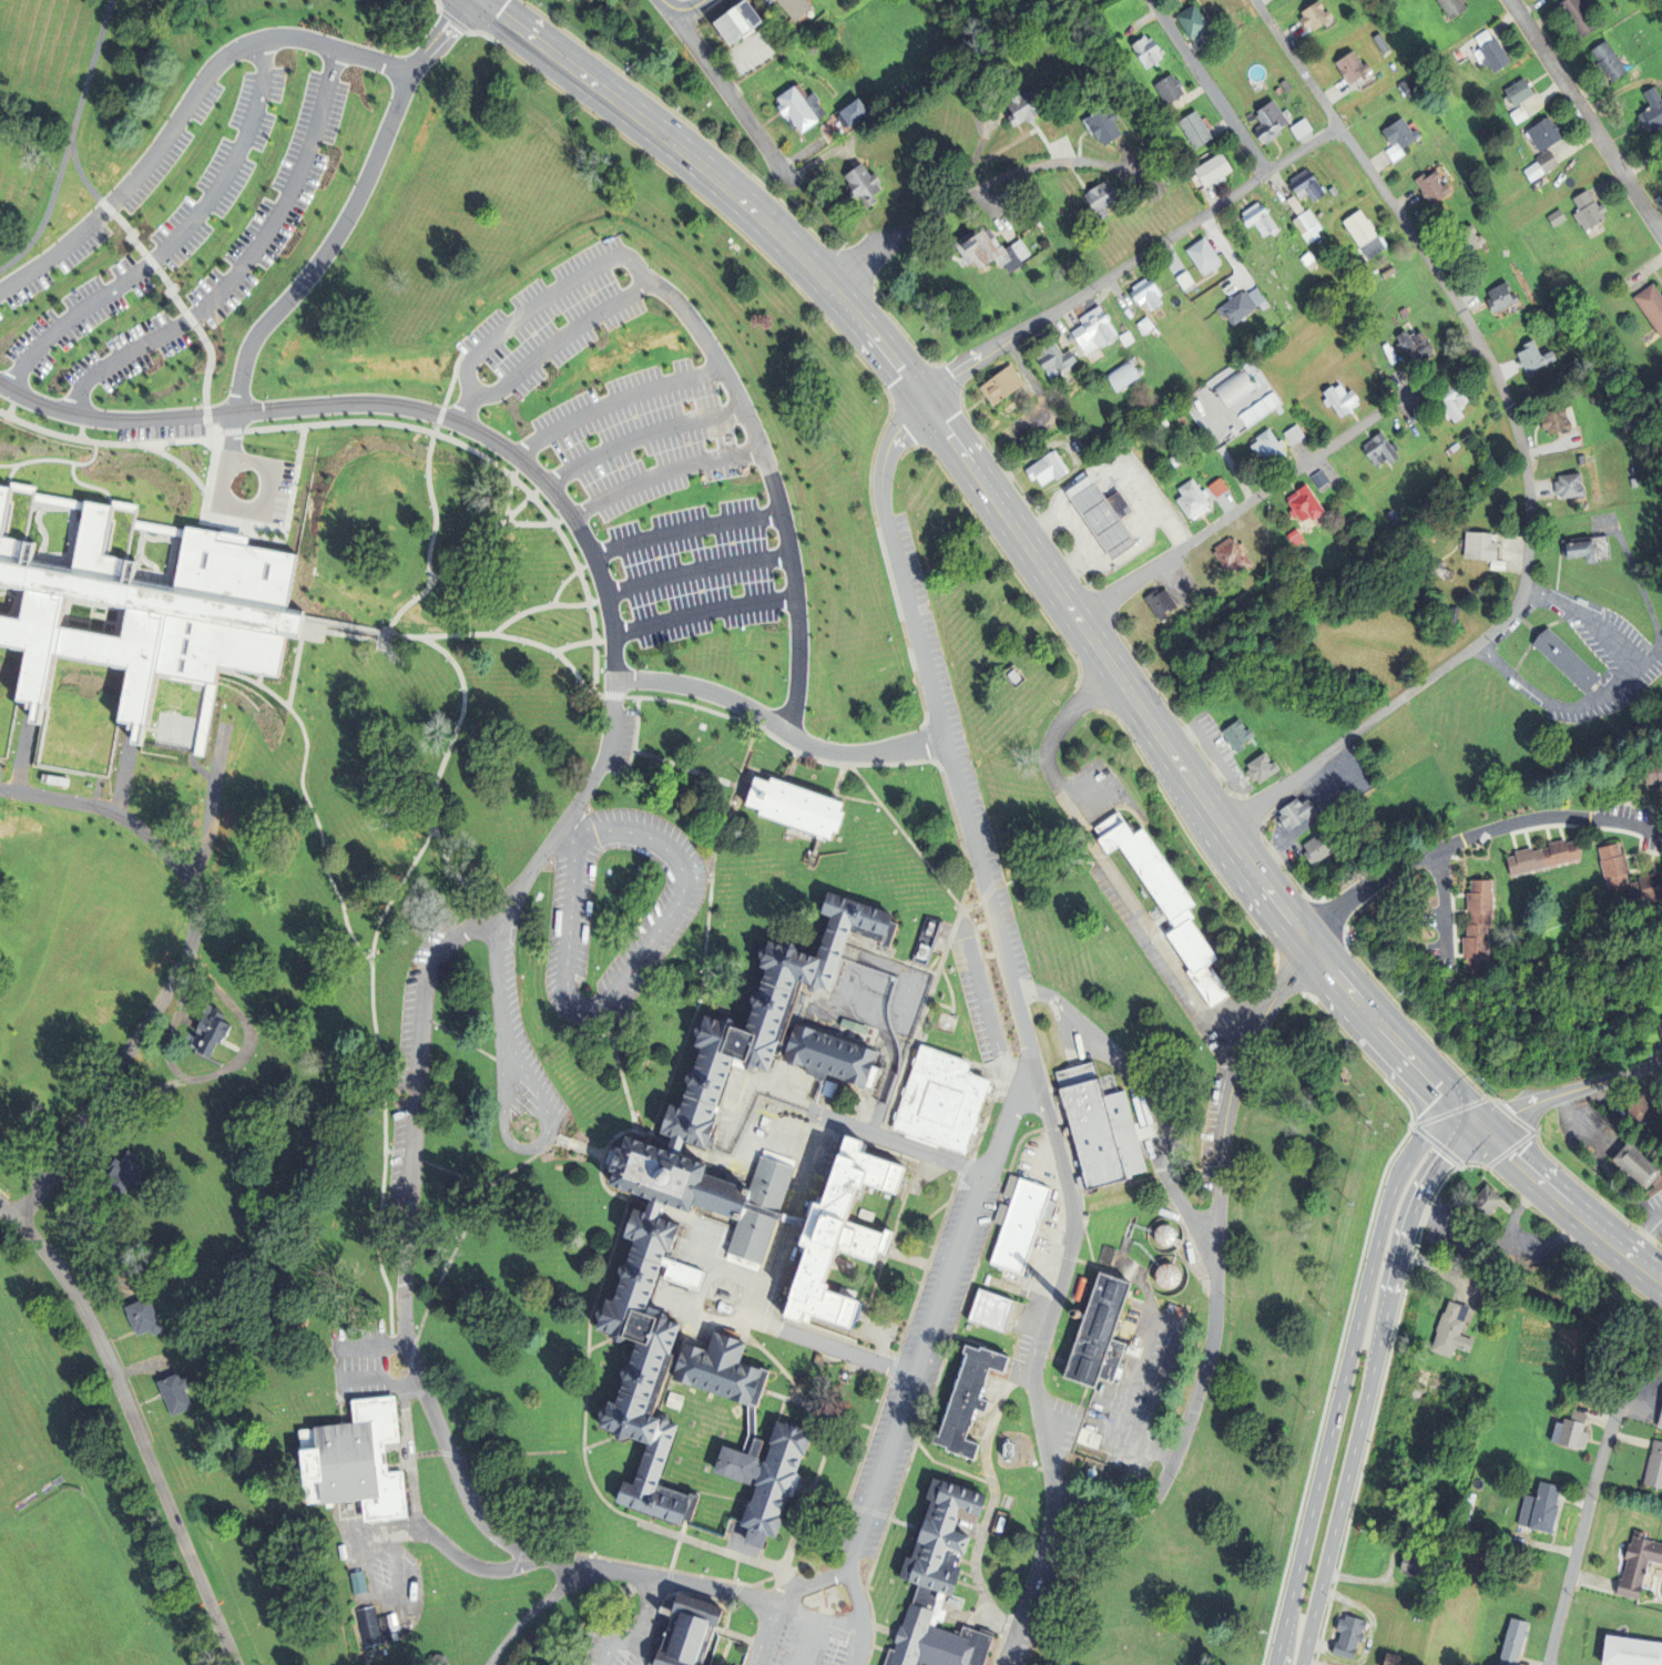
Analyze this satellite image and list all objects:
road: (704, 1)
road: (667, 4)
building: (1456, 7)
building: (796, 8)
building: (220, 10)
road: (687, 10)
building: (1581, 14)
building: (1312, 16)
building: (741, 19)
building: (1186, 22)
road: (528, 35)
building: (1111, 35)
road: (438, 37)
building: (1486, 37)
building: (1145, 51)
building: (1497, 54)
building: (1611, 60)
building: (1348, 67)
building: (1282, 85)
road: (1207, 86)
building: (1164, 89)
building: (1401, 89)
building: (1522, 90)
road: (728, 92)
building: (1021, 102)
building: (1655, 106)
road: (81, 108)
building: (802, 109)
road: (185, 112)
building: (857, 112)
building: (1521, 113)
road: (1587, 118)
building: (1266, 121)
building: (1101, 125)
building: (1191, 130)
building: (1488, 131)
building: (1546, 134)
road: (663, 137)
building: (1395, 139)
building: (1550, 160)
building: (1206, 170)
building: (1536, 170)
building: (857, 183)
building: (1301, 184)
road: (983, 186)
building: (1429, 187)
building: (1329, 191)
building: (1098, 198)
building: (1589, 210)
road: (49, 212)
parking lot: (193, 212)
building: (1559, 217)
road: (119, 218)
building: (1256, 221)
building: (1304, 226)
building: (1499, 229)
building: (1360, 234)
road: (133, 237)
building: (1465, 237)
road: (176, 242)
building: (972, 245)
building: (1017, 249)
road: (1224, 253)
building: (1199, 255)
building: (1306, 261)
road: (1130, 262)
road: (152, 263)
road: (246, 264)
road: (313, 272)
building: (1181, 279)
road: (171, 292)
building: (1144, 293)
building: (1506, 297)
building: (1652, 303)
building: (1238, 305)
building: (605, 313)
building: (1400, 313)
parking lot: (0, 318)
road: (191, 320)
building: (1142, 325)
building: (1090, 330)
road: (561, 338)
building: (1123, 338)
building: (1411, 345)
road: (211, 354)
building: (1536, 357)
building: (1051, 359)
building: (453, 369)
road: (724, 370)
building: (1119, 375)
building: (998, 384)
building: (1233, 388)
traffic signals: (922, 397)
building: (1338, 399)
building: (1449, 402)
road: (616, 404)
road: (13, 406)
road: (387, 407)
road: (467, 408)
building: (1256, 408)
building: (757, 415)
building: (573, 418)
building: (1558, 420)
road: (379, 422)
building: (1161, 422)
road: (82, 428)
road: (642, 437)
building: (1266, 447)
building: (1377, 448)
building: (1454, 448)
road: (1523, 449)
building: (1583, 459)
road: (55, 461)
building: (1169, 461)
road: (177, 463)
road: (253, 464)
road: (429, 468)
building: (1044, 468)
road: (12, 474)
road: (665, 474)
building: (1322, 478)
parking lot: (633, 482)
road: (1278, 482)
building: (1572, 484)
road: (89, 487)
road: (511, 491)
building: (714, 497)
building: (1189, 499)
road: (524, 504)
building: (1307, 504)
building: (1099, 514)
gas station: (1099, 514)
road: (222, 522)
road: (687, 530)
building: (1297, 537)
road: (1024, 545)
building: (1483, 545)
building: (1584, 548)
building: (1235, 555)
building: (1500, 564)
building: (1438, 569)
road: (700, 573)
road: (570, 579)
road: (1642, 600)
building: (1158, 602)
road: (548, 607)
road: (704, 611)
building: (152, 612)
road: (911, 614)
building: (557, 617)
building: (94, 624)
building: (807, 634)
road: (387, 639)
road: (603, 642)
road: (572, 646)
building: (1566, 658)
road: (296, 668)
road: (262, 678)
road: (1612, 695)
road: (612, 711)
road: (740, 719)
road: (781, 727)
building: (1242, 736)
road: (636, 739)
road: (747, 757)
building: (1263, 767)
road: (793, 768)
building: (1653, 770)
road: (693, 772)
road: (440, 774)
building: (57, 782)
road: (799, 786)
road: (307, 798)
building: (798, 808)
building: (1297, 810)
road: (574, 830)
building: (140, 847)
building: (1319, 848)
building: (1536, 848)
road: (1108, 867)
building: (1619, 871)
road: (1441, 896)
building: (1169, 902)
building: (1470, 916)
building: (159, 950)
road: (182, 963)
road: (496, 974)
road: (625, 975)
building: (102, 1000)
road: (1377, 1015)
building: (211, 1030)
building: (1659, 1032)
building: (837, 1053)
building: (53, 1068)
road: (384, 1079)
road: (1153, 1085)
road: (1569, 1092)
building: (946, 1099)
building: (1642, 1106)
building: (4, 1122)
traffic signals: (1479, 1125)
building: (1098, 1126)
road: (531, 1148)
road: (410, 1160)
building: (1641, 1163)
building: (124, 1172)
building: (706, 1188)
road: (1438, 1192)
building: (1486, 1204)
road: (1568, 1205)
building: (764, 1209)
road: (1543, 1218)
building: (1023, 1219)
road: (794, 1223)
building: (840, 1235)
building: (1165, 1235)
storage tank: (1165, 1235)
road: (1069, 1252)
building: (1489, 1257)
road: (1217, 1269)
building: (1170, 1275)
storage tank: (1170, 1275)
road: (1614, 1276)
building: (996, 1309)
road: (932, 1314)
chimney: (1075, 1314)
building: (144, 1316)
building: (1455, 1330)
building: (1099, 1332)
road: (901, 1344)
road: (371, 1347)
building: (726, 1370)
road: (1346, 1371)
road: (380, 1379)
road: (1369, 1383)
building: (175, 1392)
building: (970, 1399)
building: (1415, 1413)
building: (1661, 1422)
road: (136, 1423)
building: (1571, 1431)
building: (1085, 1438)
road: (520, 1454)
building: (358, 1462)
building: (1656, 1467)
building: (772, 1477)
building: (1472, 1498)
building: (1378, 1500)
building: (1542, 1508)
building: (1002, 1524)
building: (1419, 1526)
road: (1579, 1538)
road: (445, 1543)
building: (1420, 1562)
building: (1641, 1564)
road: (816, 1582)
building: (945, 1582)
road: (679, 1585)
road: (855, 1601)
road: (529, 1614)
road: (809, 1618)
building: (366, 1626)
building: (689, 1631)
road: (763, 1633)
building: (1352, 1636)
building: (1513, 1642)
road: (808, 1643)
road: (850, 1649)
building: (1631, 1652)
building: (1388, 1658)
building: (1238, 1659)
building: (1397, 1659)

